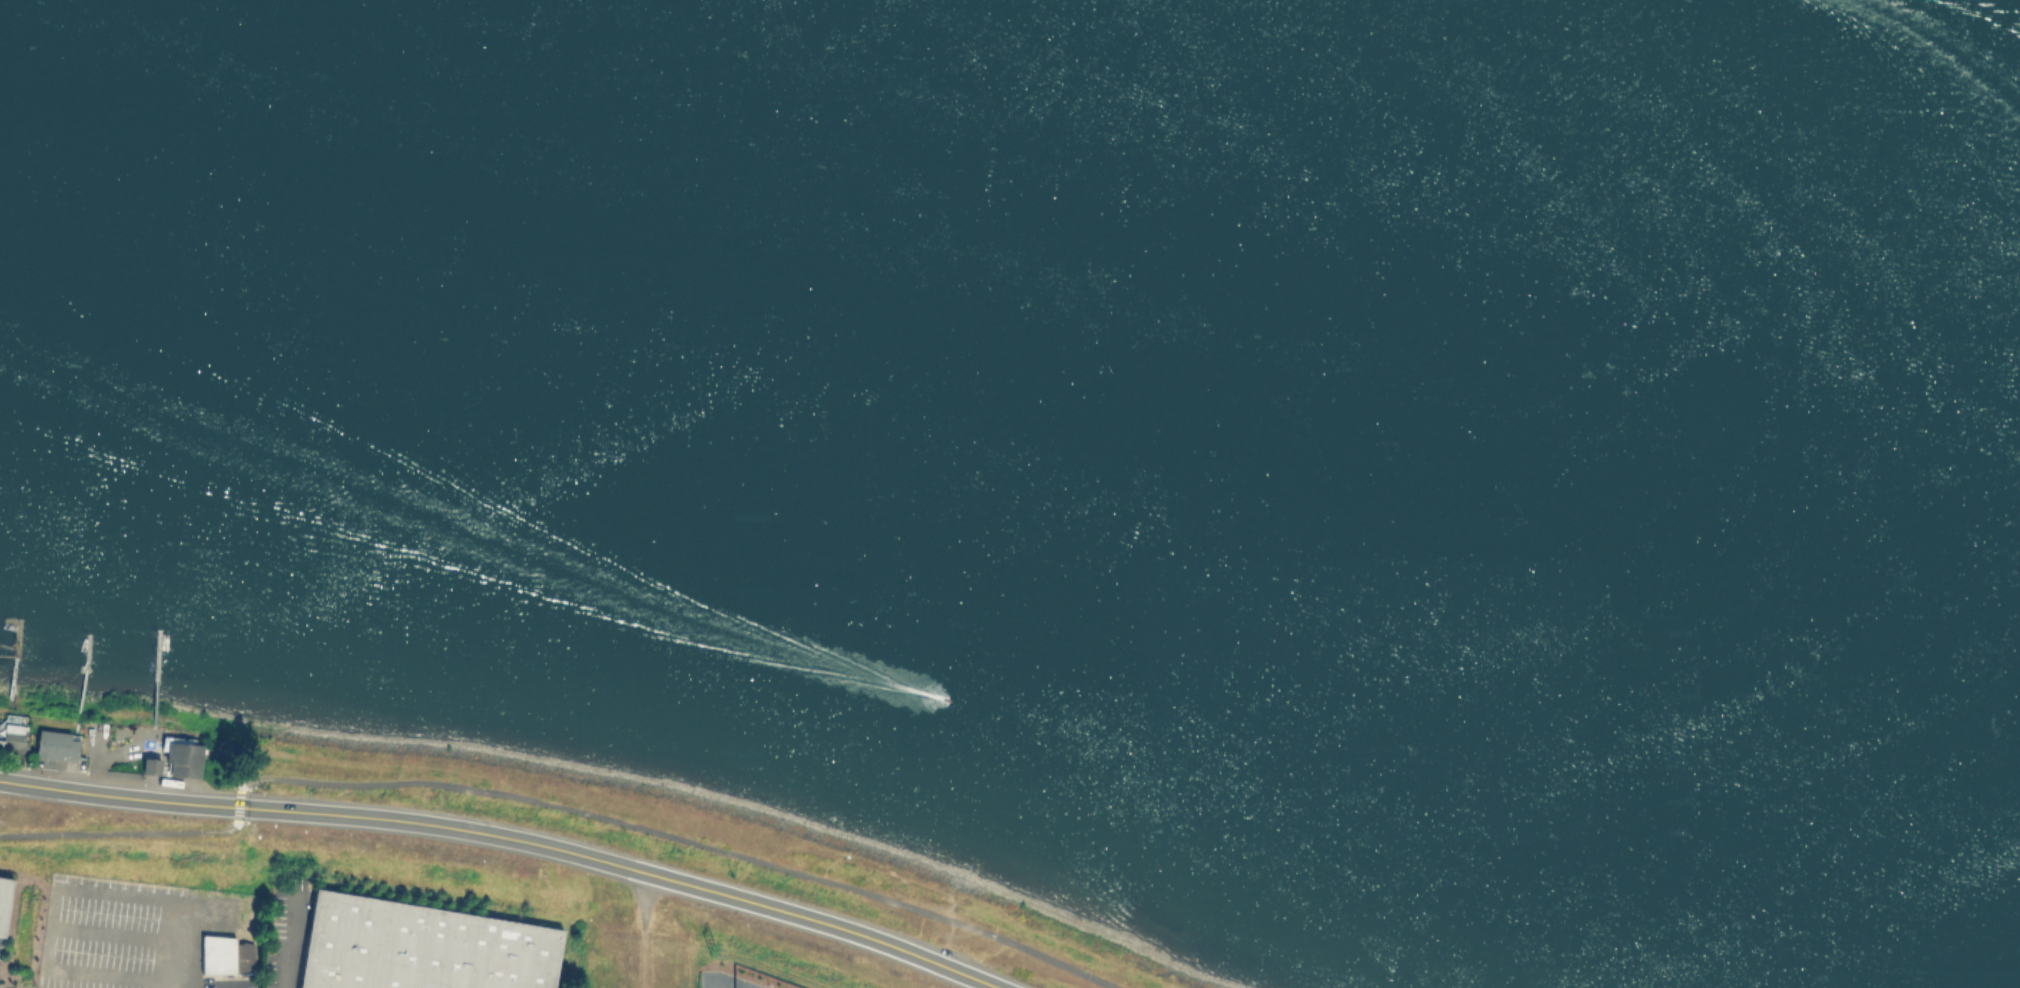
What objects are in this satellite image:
building: (15, 736)
building: (1, 741)
building: (58, 743)
building: (187, 755)
building: (154, 764)
road: (119, 797)
road: (127, 833)
road: (676, 837)
road: (624, 866)
road: (56, 886)
building: (5, 899)
road: (644, 930)
road: (112, 932)
building: (426, 946)
building: (225, 955)
road: (166, 984)

